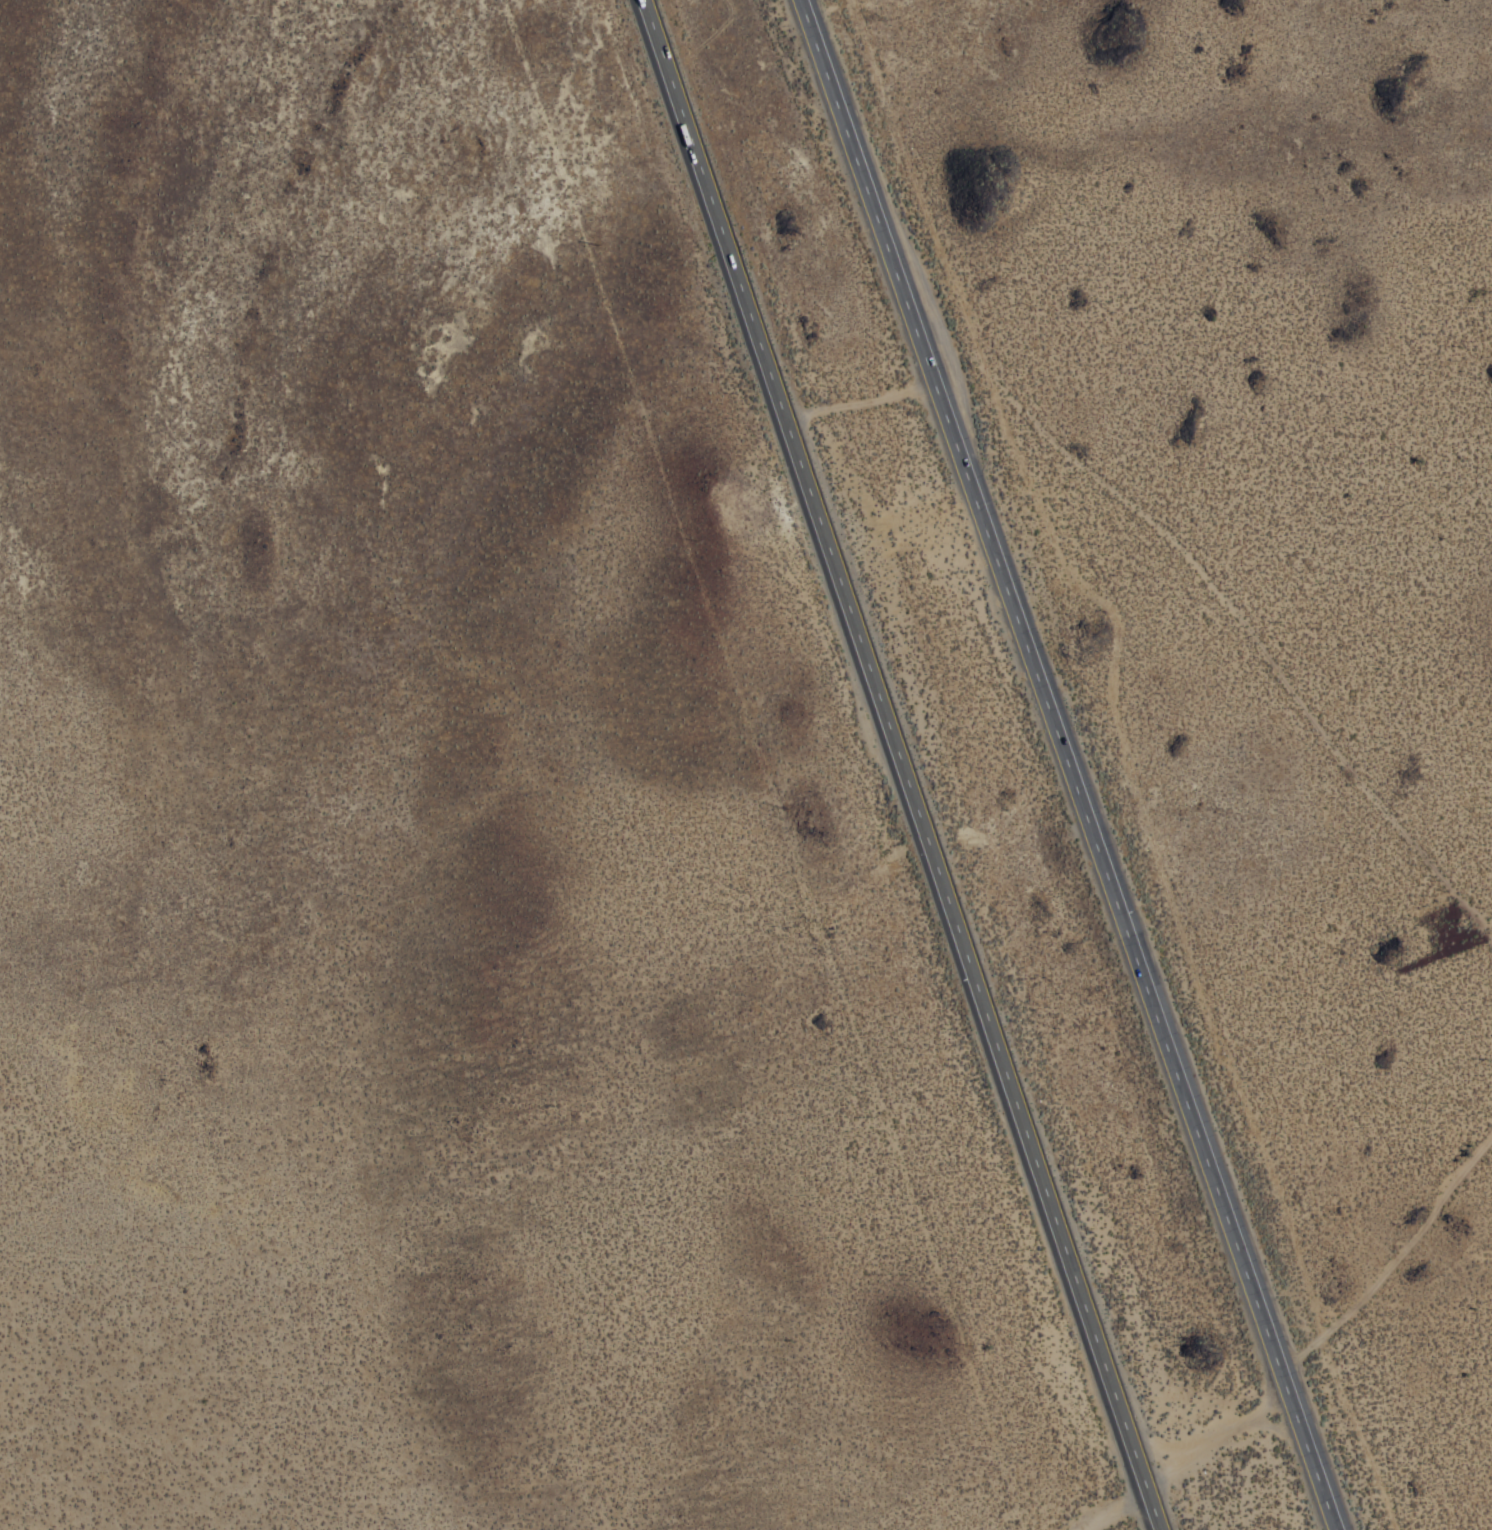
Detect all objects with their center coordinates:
road: (1073, 765)
road: (901, 766)
road: (1310, 1353)

